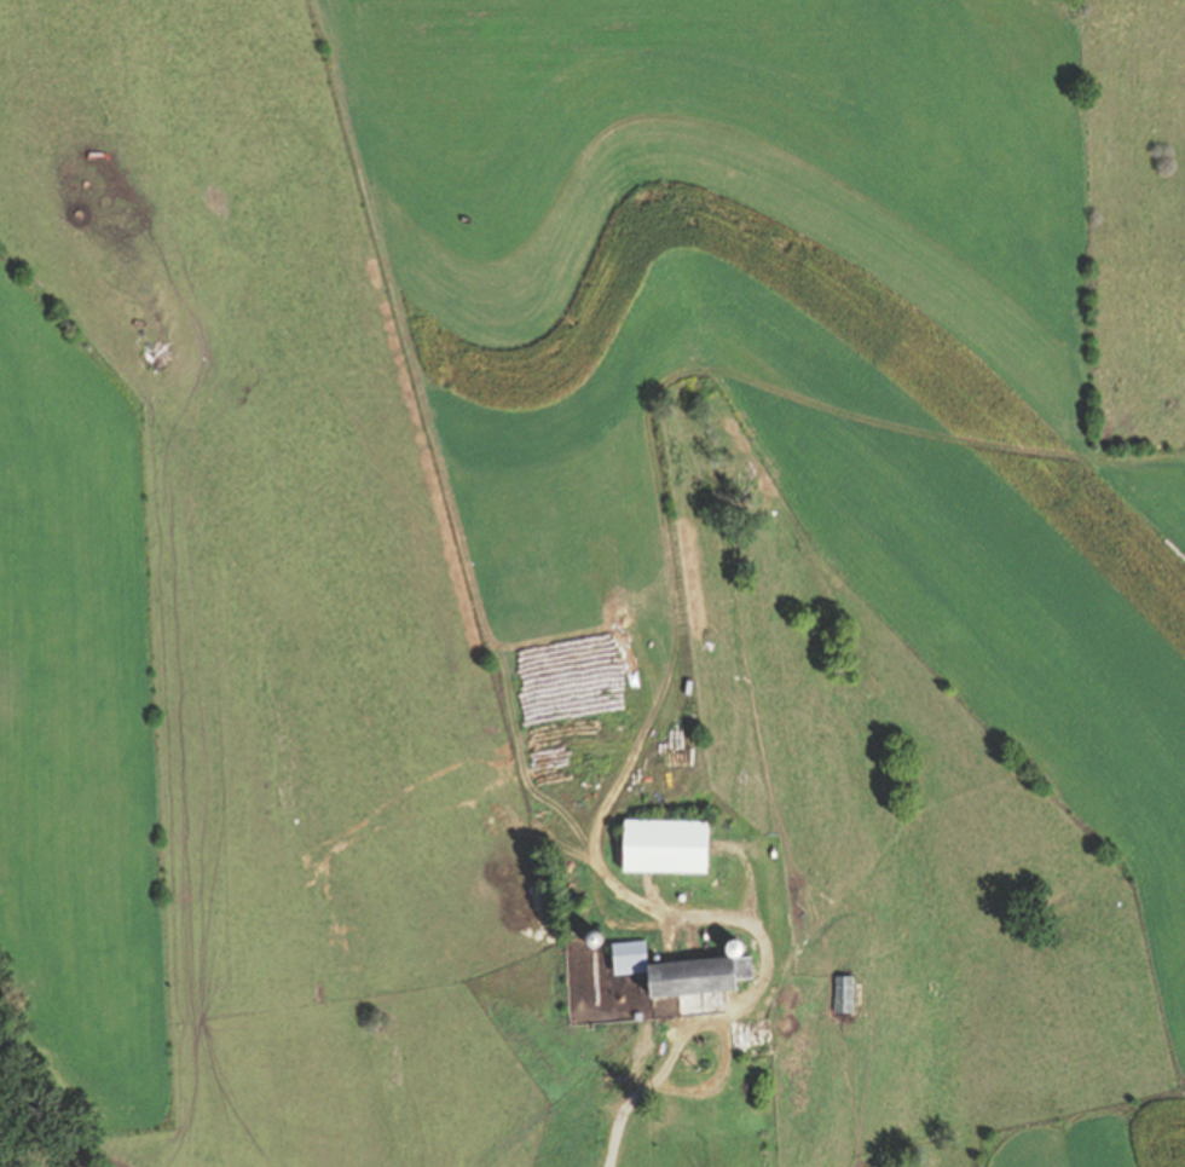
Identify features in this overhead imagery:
building: (665, 847)
building: (682, 971)
building: (844, 994)
building: (741, 1034)
road: (622, 1160)

